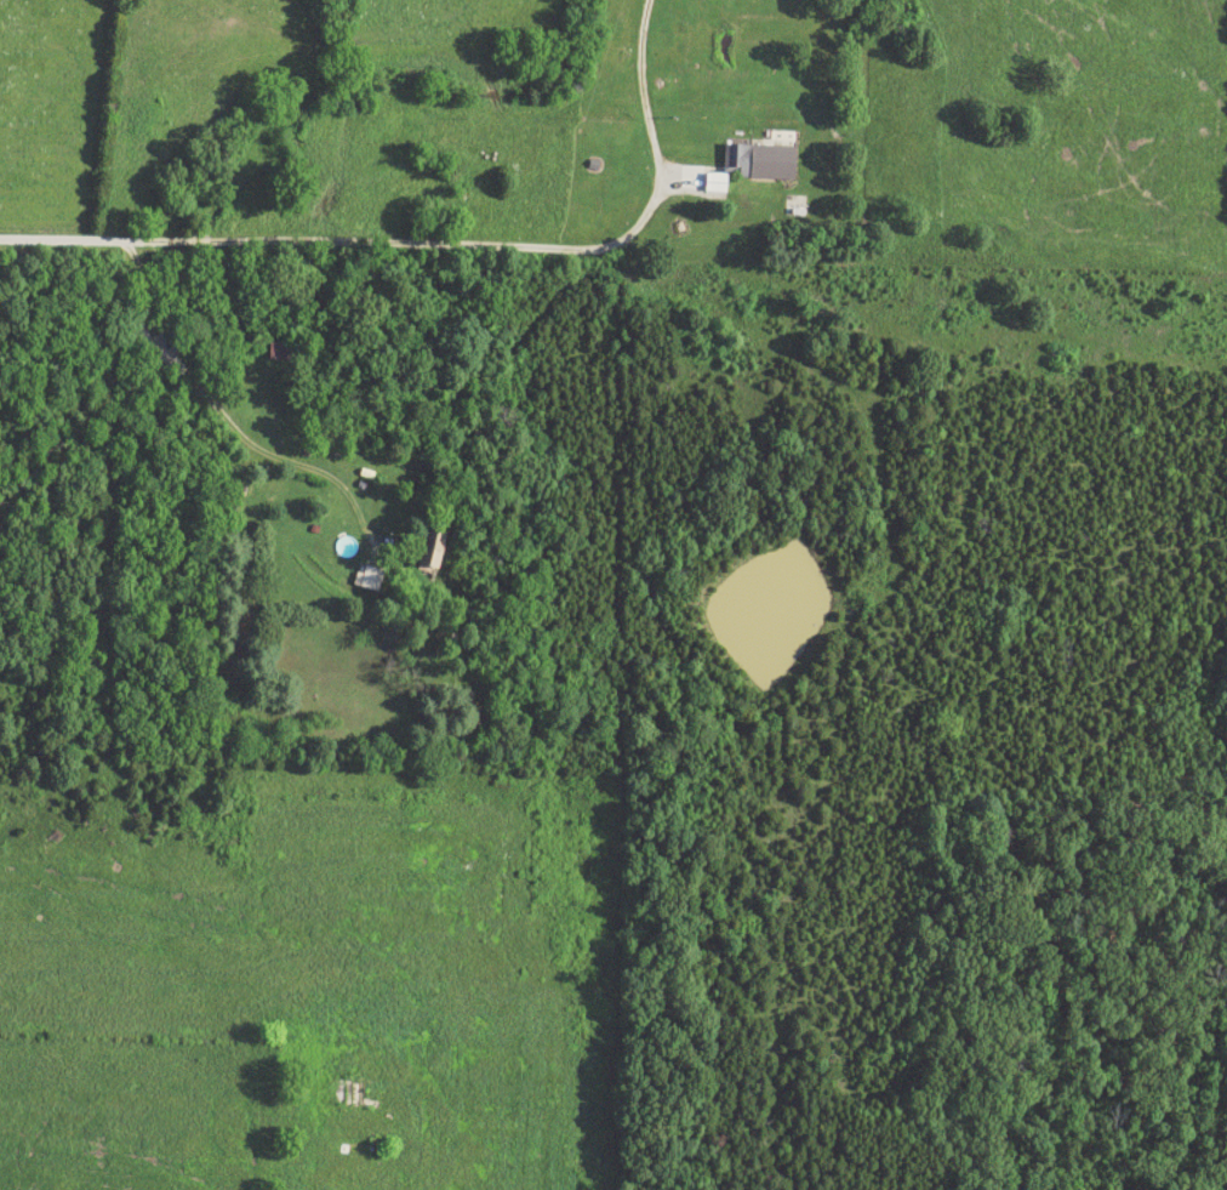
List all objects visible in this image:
road: (438, 245)
road: (224, 419)
building: (433, 553)
building: (369, 579)
road: (303, 1185)

